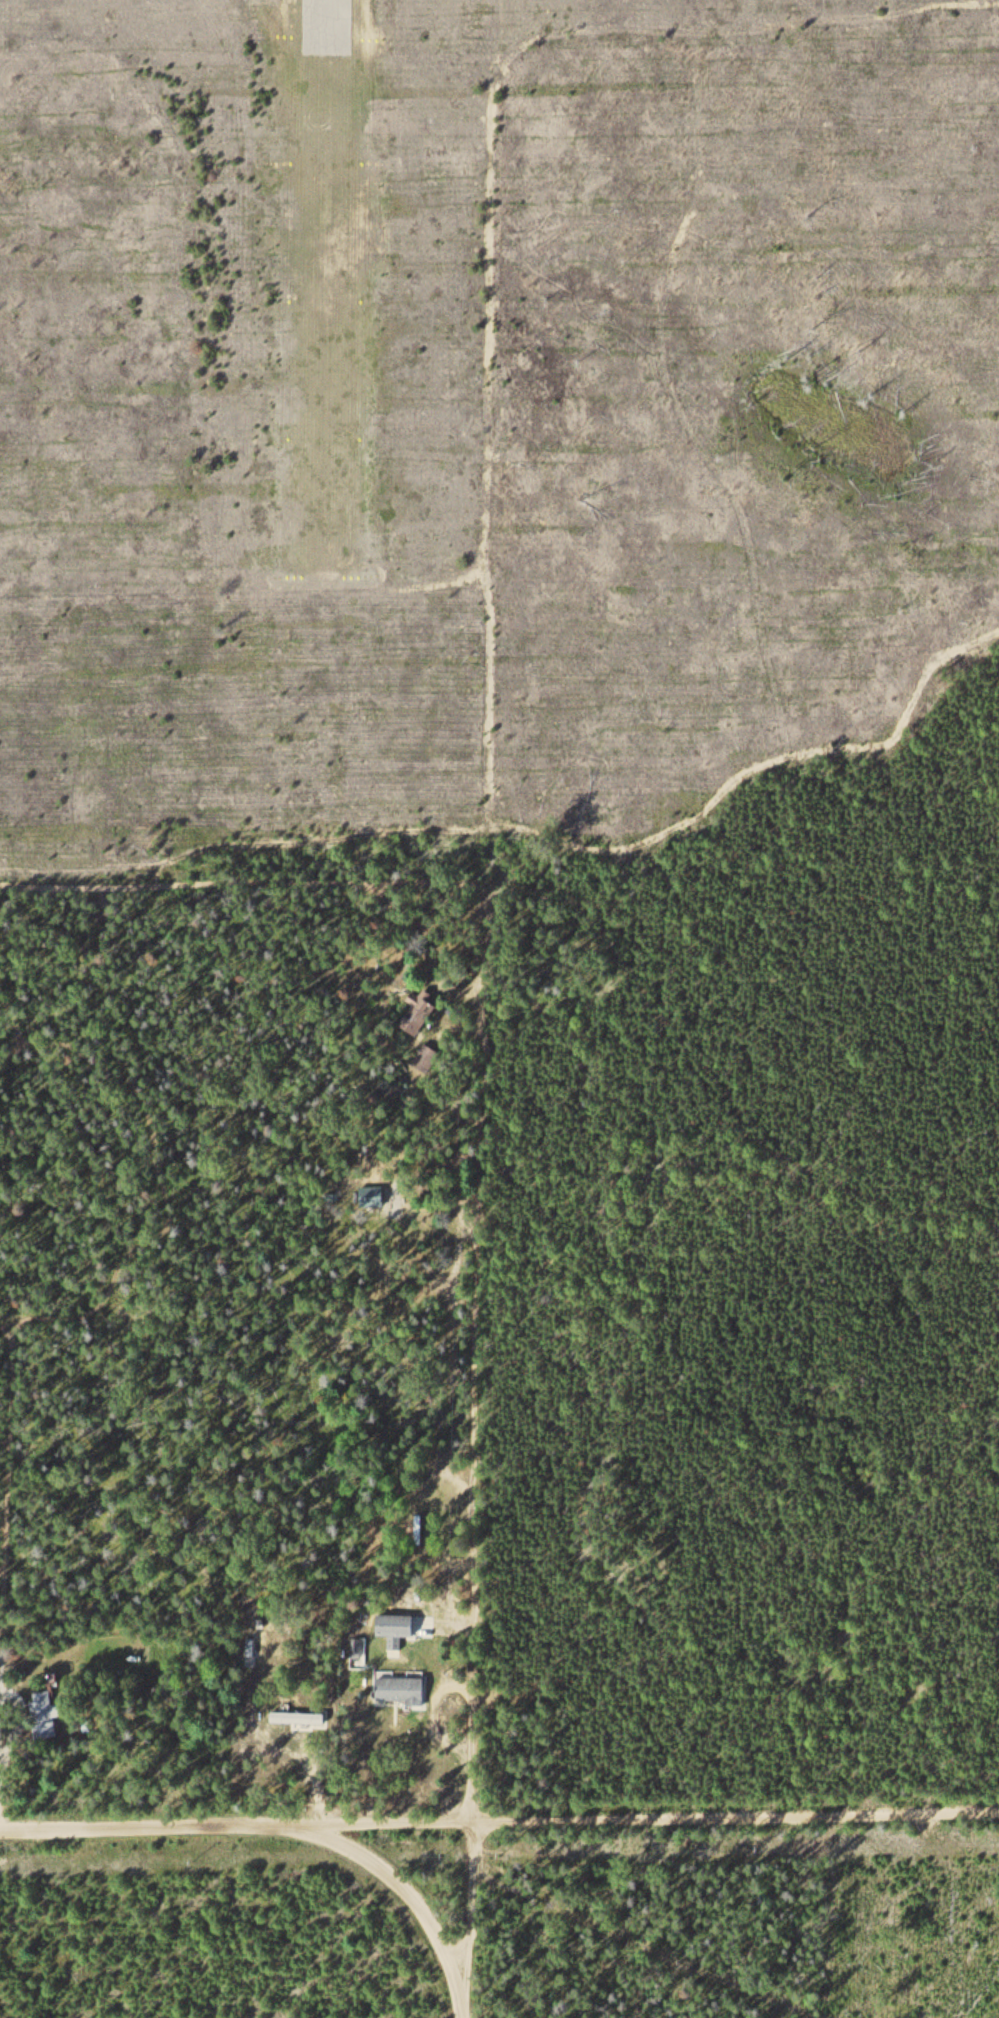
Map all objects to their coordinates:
road: (736, 30)
airport runway: (324, 286)
road: (528, 831)
road: (485, 949)
building: (421, 1011)
building: (373, 1197)
building: (395, 1629)
building: (401, 1690)
building: (45, 1716)
building: (299, 1719)
road: (735, 1812)
road: (235, 1827)
road: (394, 1873)
road: (469, 1909)
road: (640, 1944)
road: (467, 2011)

